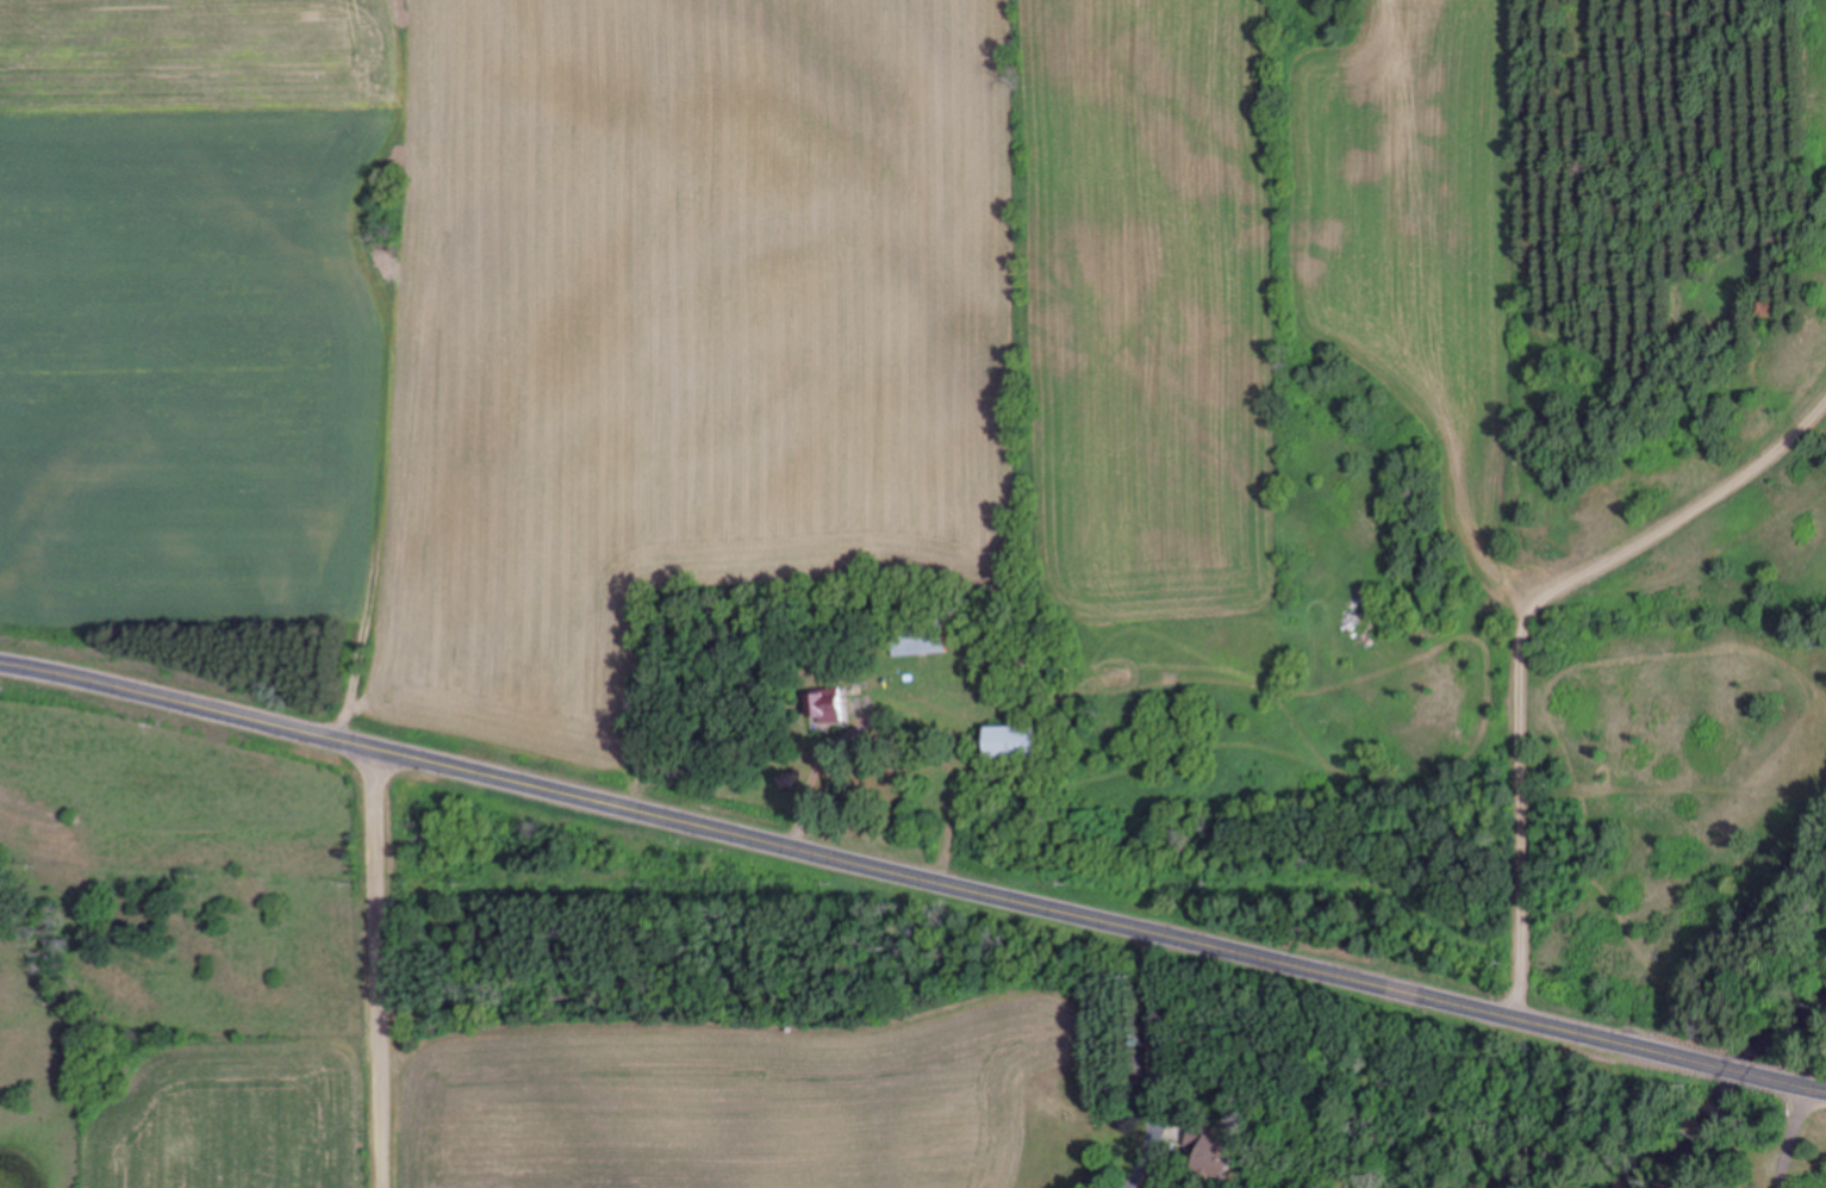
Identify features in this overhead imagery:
building: (923, 639)
building: (831, 704)
building: (1023, 741)
road: (914, 869)
road: (385, 966)
building: (1203, 1152)
road: (1808, 1157)

